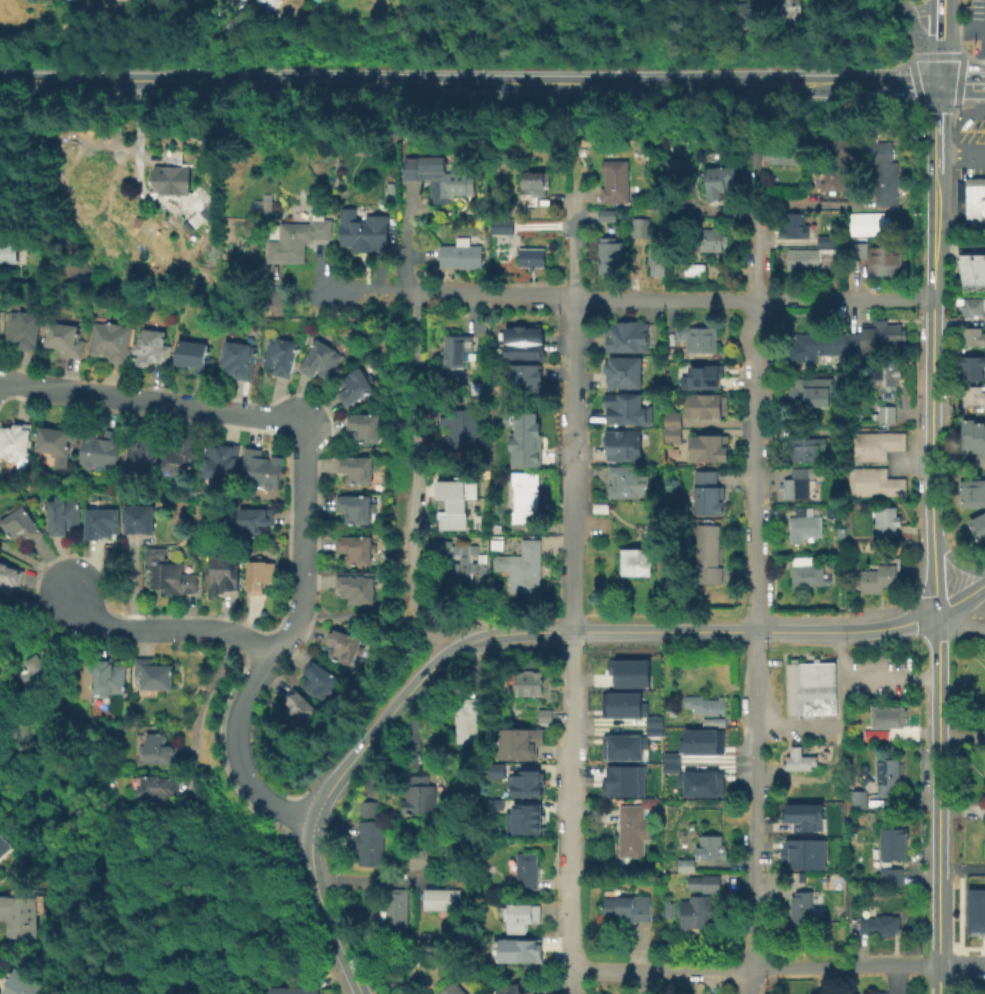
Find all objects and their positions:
building: (265, 1)
road: (897, 3)
road: (917, 8)
building: (793, 9)
building: (757, 12)
road: (936, 42)
road: (919, 44)
road: (931, 57)
road: (197, 80)
road: (625, 83)
road: (896, 83)
traffic signals: (935, 84)
road: (960, 84)
road: (933, 128)
road: (135, 135)
building: (775, 144)
building: (783, 157)
building: (757, 158)
road: (959, 158)
building: (672, 165)
building: (837, 172)
building: (885, 173)
building: (430, 174)
building: (167, 179)
building: (616, 181)
building: (720, 181)
building: (534, 186)
building: (389, 190)
building: (958, 191)
building: (984, 192)
building: (973, 199)
road: (806, 203)
building: (263, 204)
building: (608, 214)
building: (868, 223)
building: (797, 226)
building: (641, 227)
building: (362, 230)
building: (502, 230)
building: (710, 239)
building: (299, 243)
road: (958, 247)
building: (8, 248)
building: (859, 252)
road: (572, 253)
building: (610, 255)
building: (462, 256)
building: (531, 257)
building: (810, 259)
building: (656, 260)
building: (885, 260)
building: (694, 272)
building: (970, 272)
road: (367, 294)
road: (669, 298)
building: (968, 310)
building: (24, 329)
building: (64, 338)
building: (626, 338)
building: (701, 339)
building: (970, 339)
building: (110, 340)
building: (871, 340)
building: (522, 342)
building: (812, 345)
building: (459, 348)
building: (153, 349)
road: (930, 355)
building: (195, 356)
building: (281, 357)
building: (240, 359)
building: (321, 360)
building: (967, 368)
building: (623, 375)
road: (981, 375)
building: (702, 376)
road: (968, 376)
road: (944, 377)
building: (883, 380)
building: (526, 384)
building: (355, 385)
building: (810, 392)
building: (970, 397)
building: (704, 410)
building: (625, 413)
road: (273, 415)
building: (883, 415)
building: (461, 427)
building: (674, 427)
building: (362, 433)
building: (526, 435)
building: (58, 437)
building: (971, 437)
road: (414, 440)
building: (14, 446)
building: (882, 446)
building: (856, 448)
building: (102, 449)
building: (622, 449)
building: (707, 451)
building: (806, 451)
building: (145, 453)
building: (182, 454)
building: (221, 461)
road: (571, 463)
building: (261, 468)
building: (357, 468)
building: (625, 480)
building: (856, 483)
building: (882, 484)
building: (792, 491)
building: (970, 494)
building: (526, 496)
building: (709, 496)
building: (457, 499)
building: (605, 506)
building: (355, 507)
building: (64, 515)
building: (140, 518)
building: (252, 521)
building: (103, 522)
building: (883, 523)
building: (804, 524)
building: (19, 526)
building: (976, 529)
building: (355, 548)
building: (708, 553)
building: (636, 560)
road: (954, 561)
road: (36, 564)
building: (521, 566)
building: (466, 567)
building: (808, 571)
building: (260, 574)
building: (168, 575)
road: (932, 575)
building: (9, 578)
building: (223, 578)
building: (882, 578)
building: (862, 583)
building: (357, 586)
road: (960, 600)
road: (754, 602)
road: (360, 617)
road: (958, 622)
road: (165, 630)
road: (753, 630)
road: (506, 632)
building: (340, 645)
building: (628, 672)
building: (38, 677)
building: (155, 678)
building: (318, 680)
road: (887, 680)
building: (111, 682)
building: (528, 684)
building: (808, 691)
building: (620, 704)
building: (706, 705)
road: (201, 708)
building: (299, 715)
building: (546, 715)
building: (471, 718)
building: (887, 718)
building: (652, 720)
road: (840, 723)
building: (653, 730)
building: (873, 734)
road: (935, 740)
building: (700, 741)
building: (522, 745)
building: (620, 747)
building: (156, 752)
road: (244, 755)
building: (670, 757)
building: (800, 759)
road: (723, 765)
building: (670, 767)
building: (495, 769)
building: (888, 775)
building: (622, 780)
building: (697, 782)
building: (525, 783)
building: (156, 795)
road: (572, 797)
building: (420, 798)
building: (857, 798)
road: (320, 805)
building: (367, 808)
building: (802, 816)
building: (525, 818)
building: (636, 823)
building: (372, 842)
building: (890, 843)
building: (713, 847)
building: (984, 847)
building: (4, 852)
building: (802, 853)
building: (430, 857)
building: (688, 865)
road: (960, 867)
building: (525, 870)
building: (888, 876)
building: (704, 882)
building: (443, 901)
building: (397, 908)
building: (628, 908)
building: (802, 909)
building: (697, 911)
building: (975, 912)
building: (20, 915)
building: (520, 915)
road: (935, 917)
building: (880, 923)
building: (518, 949)
road: (755, 965)
road: (960, 966)
road: (573, 979)
road: (936, 980)
building: (23, 983)
building: (453, 989)
building: (513, 989)
building: (293, 990)
building: (879, 993)

